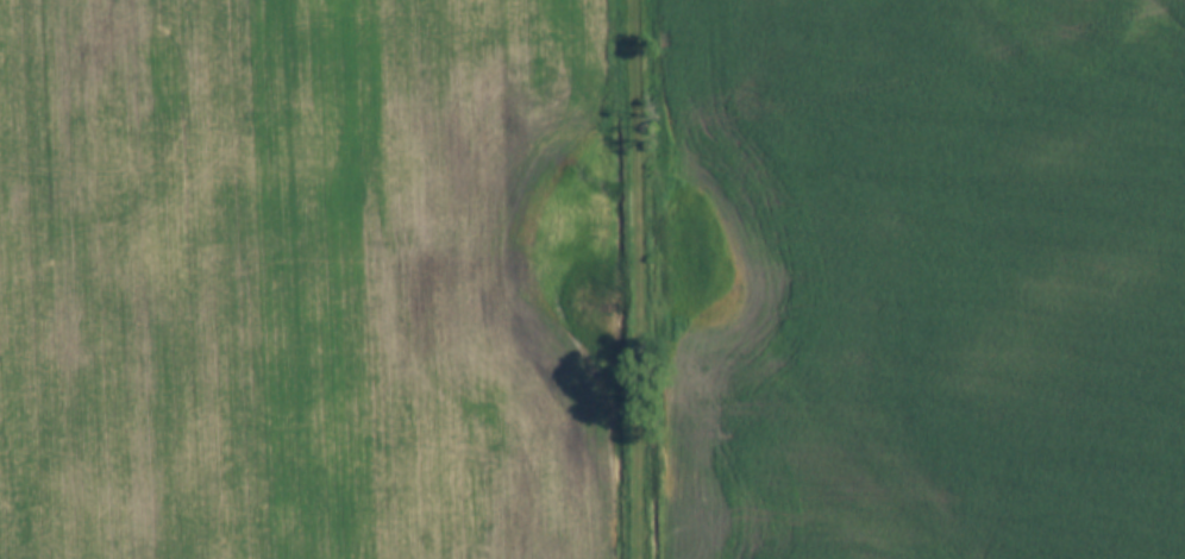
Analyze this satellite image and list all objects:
road: (646, 278)

